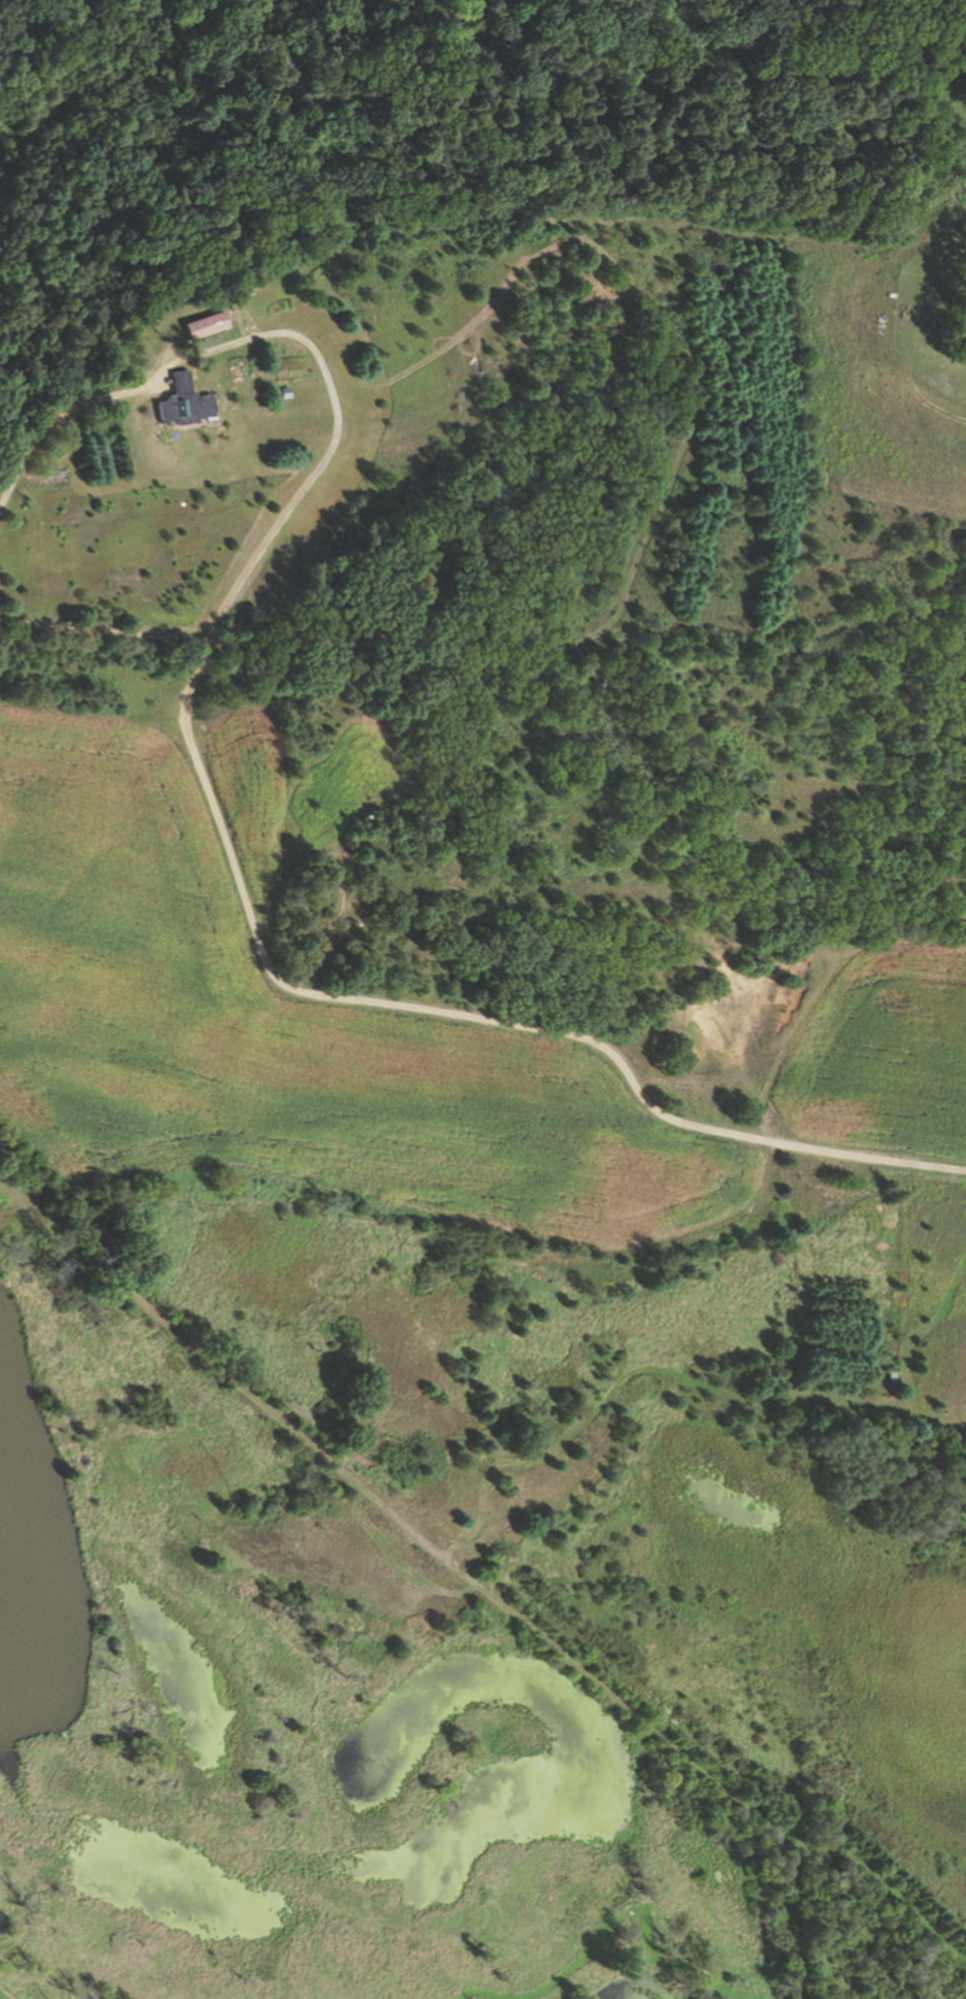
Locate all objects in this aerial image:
building: (233, 287)
building: (203, 325)
road: (271, 333)
building: (179, 402)
road: (102, 631)
road: (437, 1010)

